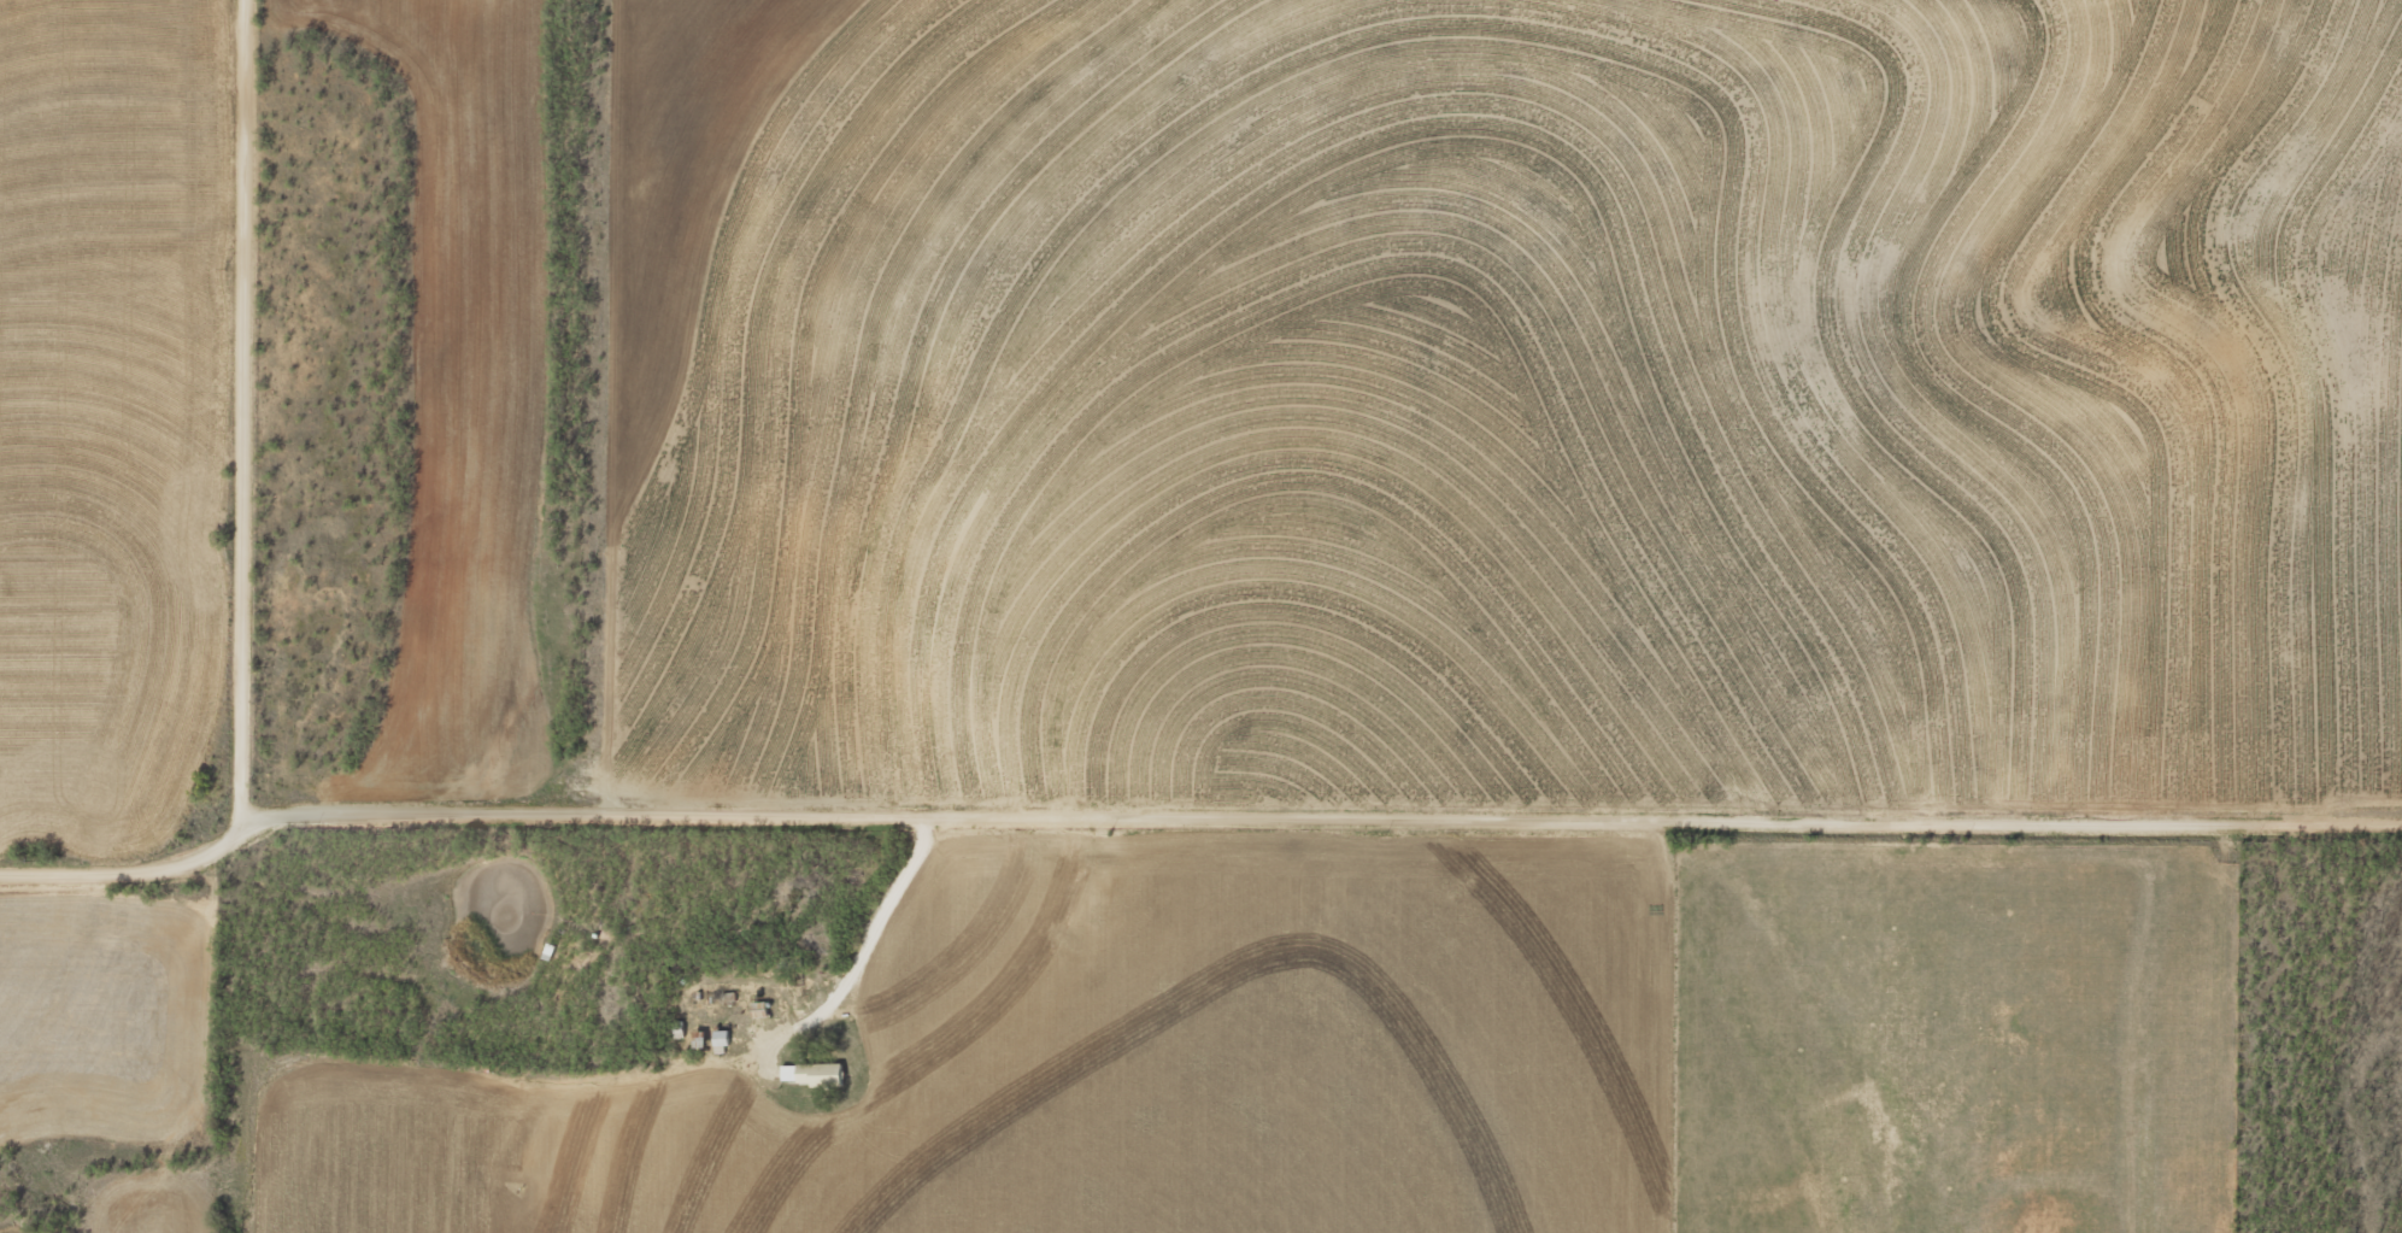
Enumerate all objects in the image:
road: (315, 412)
road: (1191, 828)
building: (722, 1037)
building: (811, 1074)

